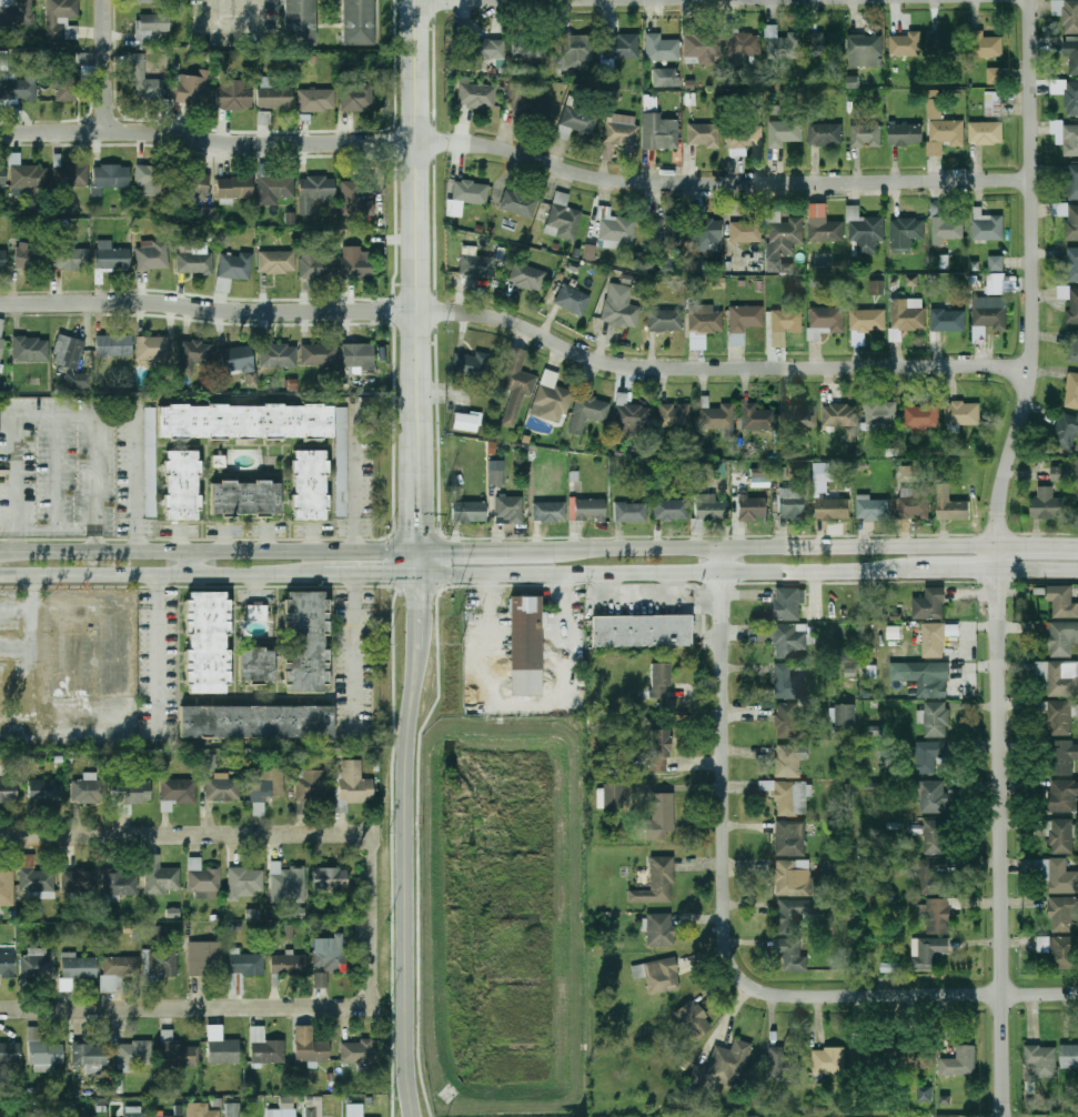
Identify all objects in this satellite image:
road: (422, 0)
building: (148, 1)
building: (18, 12)
building: (1067, 13)
building: (61, 19)
building: (298, 19)
building: (355, 20)
road: (240, 27)
building: (152, 31)
building: (742, 42)
building: (824, 43)
building: (906, 43)
building: (947, 43)
building: (530, 44)
building: (865, 44)
building: (985, 44)
building: (621, 46)
building: (703, 46)
building: (784, 46)
building: (662, 48)
building: (474, 52)
building: (576, 52)
building: (1066, 58)
building: (3, 60)
road: (109, 66)
building: (995, 74)
building: (68, 77)
building: (666, 78)
building: (144, 81)
building: (19, 89)
building: (192, 90)
building: (1067, 93)
building: (234, 94)
building: (274, 94)
building: (476, 95)
building: (512, 95)
building: (356, 99)
building: (316, 100)
building: (532, 103)
building: (993, 103)
building: (264, 118)
building: (576, 119)
building: (941, 129)
building: (661, 132)
building: (786, 132)
building: (986, 132)
building: (622, 133)
building: (826, 133)
building: (907, 133)
building: (745, 134)
building: (705, 135)
building: (866, 135)
road: (205, 138)
building: (1070, 140)
building: (71, 175)
building: (2, 177)
building: (29, 177)
building: (111, 177)
building: (150, 177)
building: (1072, 181)
road: (717, 182)
building: (193, 185)
building: (235, 187)
building: (274, 188)
building: (315, 190)
building: (466, 197)
building: (355, 200)
building: (518, 203)
road: (412, 204)
building: (203, 213)
building: (563, 218)
building: (290, 219)
building: (1068, 219)
building: (945, 223)
building: (988, 227)
building: (618, 230)
building: (665, 231)
building: (745, 231)
building: (827, 231)
building: (866, 231)
building: (905, 233)
building: (706, 235)
building: (783, 235)
building: (590, 252)
building: (153, 255)
building: (111, 256)
building: (31, 259)
building: (3, 260)
building: (71, 260)
building: (194, 262)
building: (278, 262)
building: (996, 262)
building: (356, 263)
building: (476, 264)
building: (694, 264)
building: (1071, 264)
building: (236, 265)
building: (316, 265)
building: (527, 276)
building: (997, 283)
building: (223, 284)
building: (876, 286)
building: (573, 299)
building: (1074, 305)
road: (206, 309)
building: (619, 311)
building: (907, 313)
building: (990, 314)
building: (867, 319)
building: (948, 319)
building: (665, 320)
building: (706, 320)
building: (825, 320)
building: (744, 321)
building: (787, 321)
building: (1072, 345)
building: (113, 346)
building: (31, 350)
building: (152, 350)
building: (1, 354)
building: (320, 354)
building: (193, 355)
building: (278, 355)
building: (357, 358)
building: (238, 359)
building: (72, 361)
building: (470, 364)
road: (716, 366)
building: (251, 380)
building: (516, 384)
building: (1071, 391)
building: (551, 398)
building: (587, 411)
building: (881, 412)
building: (963, 413)
building: (675, 414)
building: (842, 415)
building: (923, 415)
building: (756, 416)
building: (800, 416)
building: (633, 417)
building: (717, 417)
building: (245, 422)
building: (465, 422)
road: (101, 424)
building: (1066, 431)
building: (342, 463)
building: (151, 466)
building: (1077, 467)
building: (778, 470)
road: (18, 471)
building: (906, 471)
building: (496, 472)
building: (1060, 473)
building: (827, 474)
road: (417, 481)
road: (356, 483)
building: (182, 485)
building: (310, 485)
road: (134, 486)
road: (60, 494)
building: (246, 500)
building: (915, 502)
building: (792, 503)
building: (1048, 503)
building: (950, 505)
building: (750, 506)
building: (711, 507)
building: (833, 507)
building: (874, 507)
building: (508, 510)
building: (588, 510)
building: (672, 510)
building: (470, 512)
building: (550, 512)
building: (631, 512)
road: (9, 522)
traffic signals: (419, 526)
road: (195, 541)
road: (1037, 545)
road: (787, 547)
road: (10, 551)
road: (220, 551)
road: (500, 552)
traffic signals: (453, 553)
road: (995, 556)
road: (392, 562)
road: (446, 563)
road: (195, 564)
road: (420, 564)
road: (648, 574)
road: (937, 574)
road: (1036, 574)
road: (149, 576)
road: (359, 576)
traffic signals: (385, 576)
road: (538, 585)
road: (155, 586)
road: (355, 587)
traffic signals: (419, 600)
building: (1062, 600)
building: (786, 603)
building: (929, 604)
building: (256, 613)
road: (419, 627)
building: (642, 631)
building: (894, 632)
building: (1062, 637)
building: (789, 640)
building: (934, 640)
building: (204, 642)
building: (306, 642)
building: (525, 646)
road: (355, 656)
road: (157, 661)
building: (258, 666)
building: (872, 671)
building: (928, 677)
building: (1059, 677)
building: (661, 680)
building: (787, 683)
road: (528, 704)
building: (846, 715)
building: (1060, 718)
building: (787, 719)
building: (936, 719)
building: (258, 722)
road: (722, 738)
building: (659, 751)
building: (925, 755)
building: (1064, 756)
building: (789, 759)
building: (208, 761)
building: (353, 783)
building: (310, 785)
building: (221, 787)
road: (674, 787)
building: (265, 788)
building: (8, 789)
building: (44, 789)
building: (132, 789)
building: (85, 791)
building: (177, 793)
building: (1062, 795)
building: (613, 796)
building: (933, 796)
building: (792, 797)
building: (659, 816)
road: (223, 834)
building: (1061, 835)
building: (935, 836)
building: (789, 838)
road: (393, 853)
road: (420, 854)
building: (1057, 875)
building: (159, 876)
building: (201, 876)
building: (34, 878)
building: (330, 878)
building: (796, 878)
building: (931, 878)
building: (79, 879)
building: (243, 882)
building: (120, 883)
building: (656, 883)
building: (285, 884)
building: (7, 887)
building: (206, 895)
road: (405, 898)
building: (1062, 913)
building: (797, 914)
building: (935, 915)
building: (657, 929)
building: (288, 932)
building: (1042, 944)
building: (926, 952)
building: (1062, 952)
building: (790, 955)
building: (204, 957)
building: (328, 957)
building: (7, 963)
building: (160, 963)
building: (245, 963)
building: (288, 964)
building: (37, 965)
building: (78, 966)
building: (890, 967)
building: (117, 972)
building: (657, 975)
road: (881, 994)
road: (223, 1006)
building: (693, 1019)
building: (309, 1046)
building: (221, 1047)
building: (264, 1048)
building: (355, 1050)
building: (177, 1051)
building: (9, 1053)
building: (42, 1053)
building: (132, 1054)
building: (1069, 1056)
building: (89, 1057)
building: (924, 1058)
building: (828, 1060)
building: (959, 1061)
building: (1040, 1061)
building: (725, 1065)
building: (782, 1066)
building: (924, 1094)
building: (945, 1099)
building: (286, 1101)
building: (232, 1109)
building: (200, 1110)
building: (353, 1110)
building: (133, 1111)
building: (311, 1111)
building: (274, 1113)
building: (91, 1116)
building: (161, 1116)

